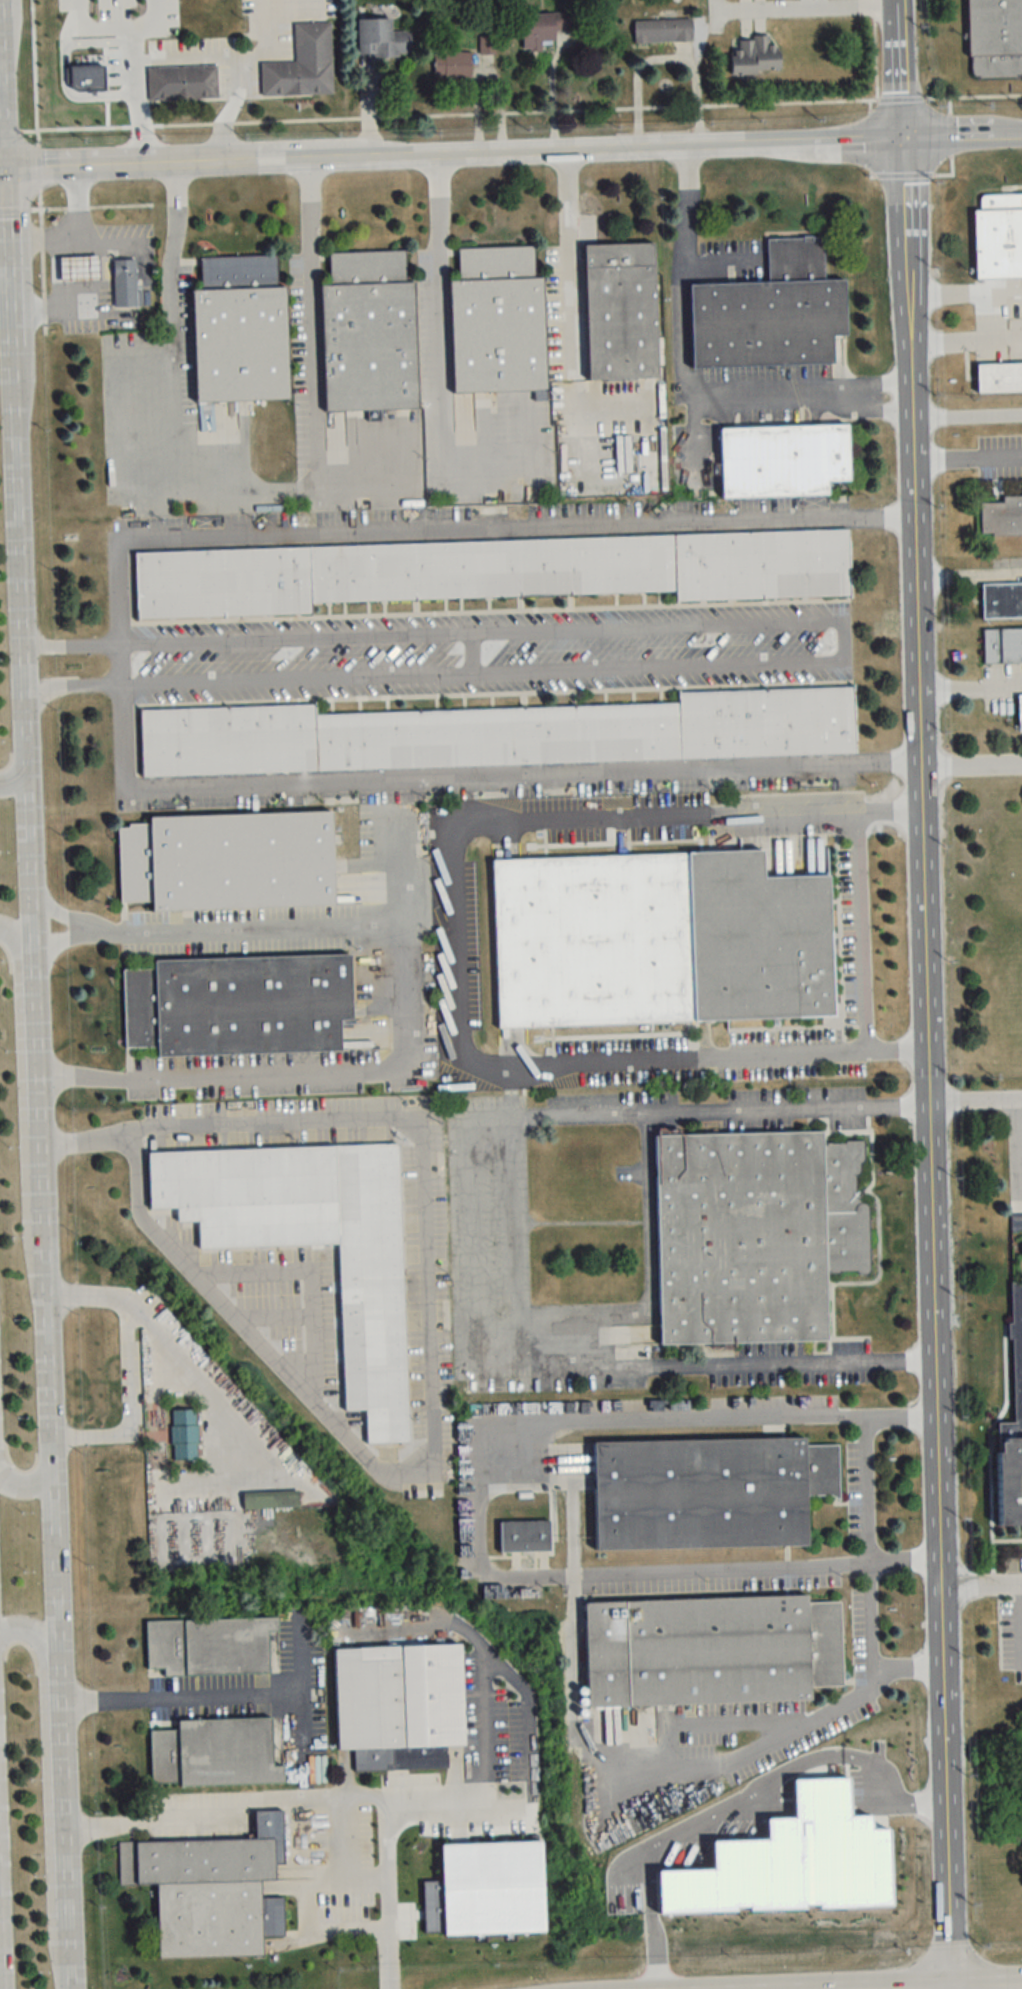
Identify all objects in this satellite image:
road: (261, 0)
road: (270, 0)
road: (808, 6)
building: (994, 27)
building: (546, 28)
building: (662, 31)
road: (263, 34)
building: (381, 38)
building: (755, 55)
road: (131, 59)
road: (244, 59)
building: (451, 63)
building: (302, 64)
building: (181, 82)
road: (1, 92)
road: (440, 112)
road: (1, 116)
traffic signals: (903, 142)
road: (2, 146)
road: (903, 148)
road: (597, 152)
road: (125, 169)
road: (40, 172)
road: (1, 174)
traffic signals: (3, 174)
road: (4, 207)
road: (79, 217)
building: (998, 236)
road: (29, 240)
road: (568, 260)
building: (79, 266)
road: (102, 281)
building: (125, 282)
road: (7, 292)
road: (964, 295)
road: (56, 296)
building: (620, 311)
building: (769, 312)
road: (907, 315)
building: (496, 321)
building: (238, 330)
road: (1015, 330)
road: (957, 331)
building: (368, 333)
road: (443, 358)
road: (909, 362)
road: (314, 372)
building: (998, 377)
road: (687, 380)
road: (170, 387)
road: (966, 415)
road: (966, 459)
building: (782, 460)
road: (304, 486)
building: (1002, 517)
road: (461, 527)
building: (486, 571)
road: (914, 575)
road: (968, 578)
building: (1001, 600)
road: (845, 640)
road: (69, 645)
building: (1002, 645)
road: (119, 663)
road: (70, 684)
road: (970, 690)
building: (1019, 712)
building: (500, 734)
road: (971, 766)
road: (469, 776)
road: (14, 779)
building: (227, 862)
road: (61, 916)
road: (248, 928)
road: (860, 929)
building: (658, 941)
road: (61, 942)
road: (451, 944)
building: (237, 1006)
road: (19, 1032)
road: (340, 1068)
road: (975, 1102)
road: (38, 1166)
building: (1016, 1223)
building: (754, 1235)
road: (478, 1242)
building: (312, 1243)
road: (648, 1291)
road: (427, 1347)
road: (128, 1363)
road: (936, 1374)
road: (195, 1385)
road: (693, 1422)
building: (1012, 1428)
building: (183, 1435)
road: (862, 1458)
road: (28, 1487)
building: (708, 1494)
building: (269, 1503)
building: (523, 1537)
road: (600, 1574)
road: (982, 1586)
road: (867, 1587)
building: (212, 1647)
building: (710, 1650)
road: (231, 1693)
building: (397, 1695)
road: (783, 1732)
building: (213, 1753)
road: (526, 1786)
road: (46, 1788)
road: (222, 1809)
road: (101, 1824)
road: (392, 1836)
road: (346, 1875)
building: (210, 1890)
road: (387, 1970)

